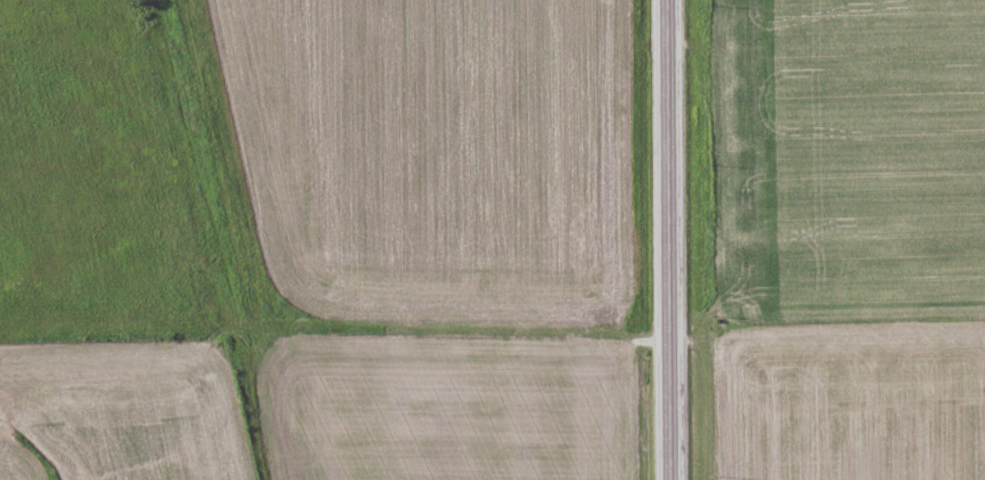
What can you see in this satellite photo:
road: (670, 240)

